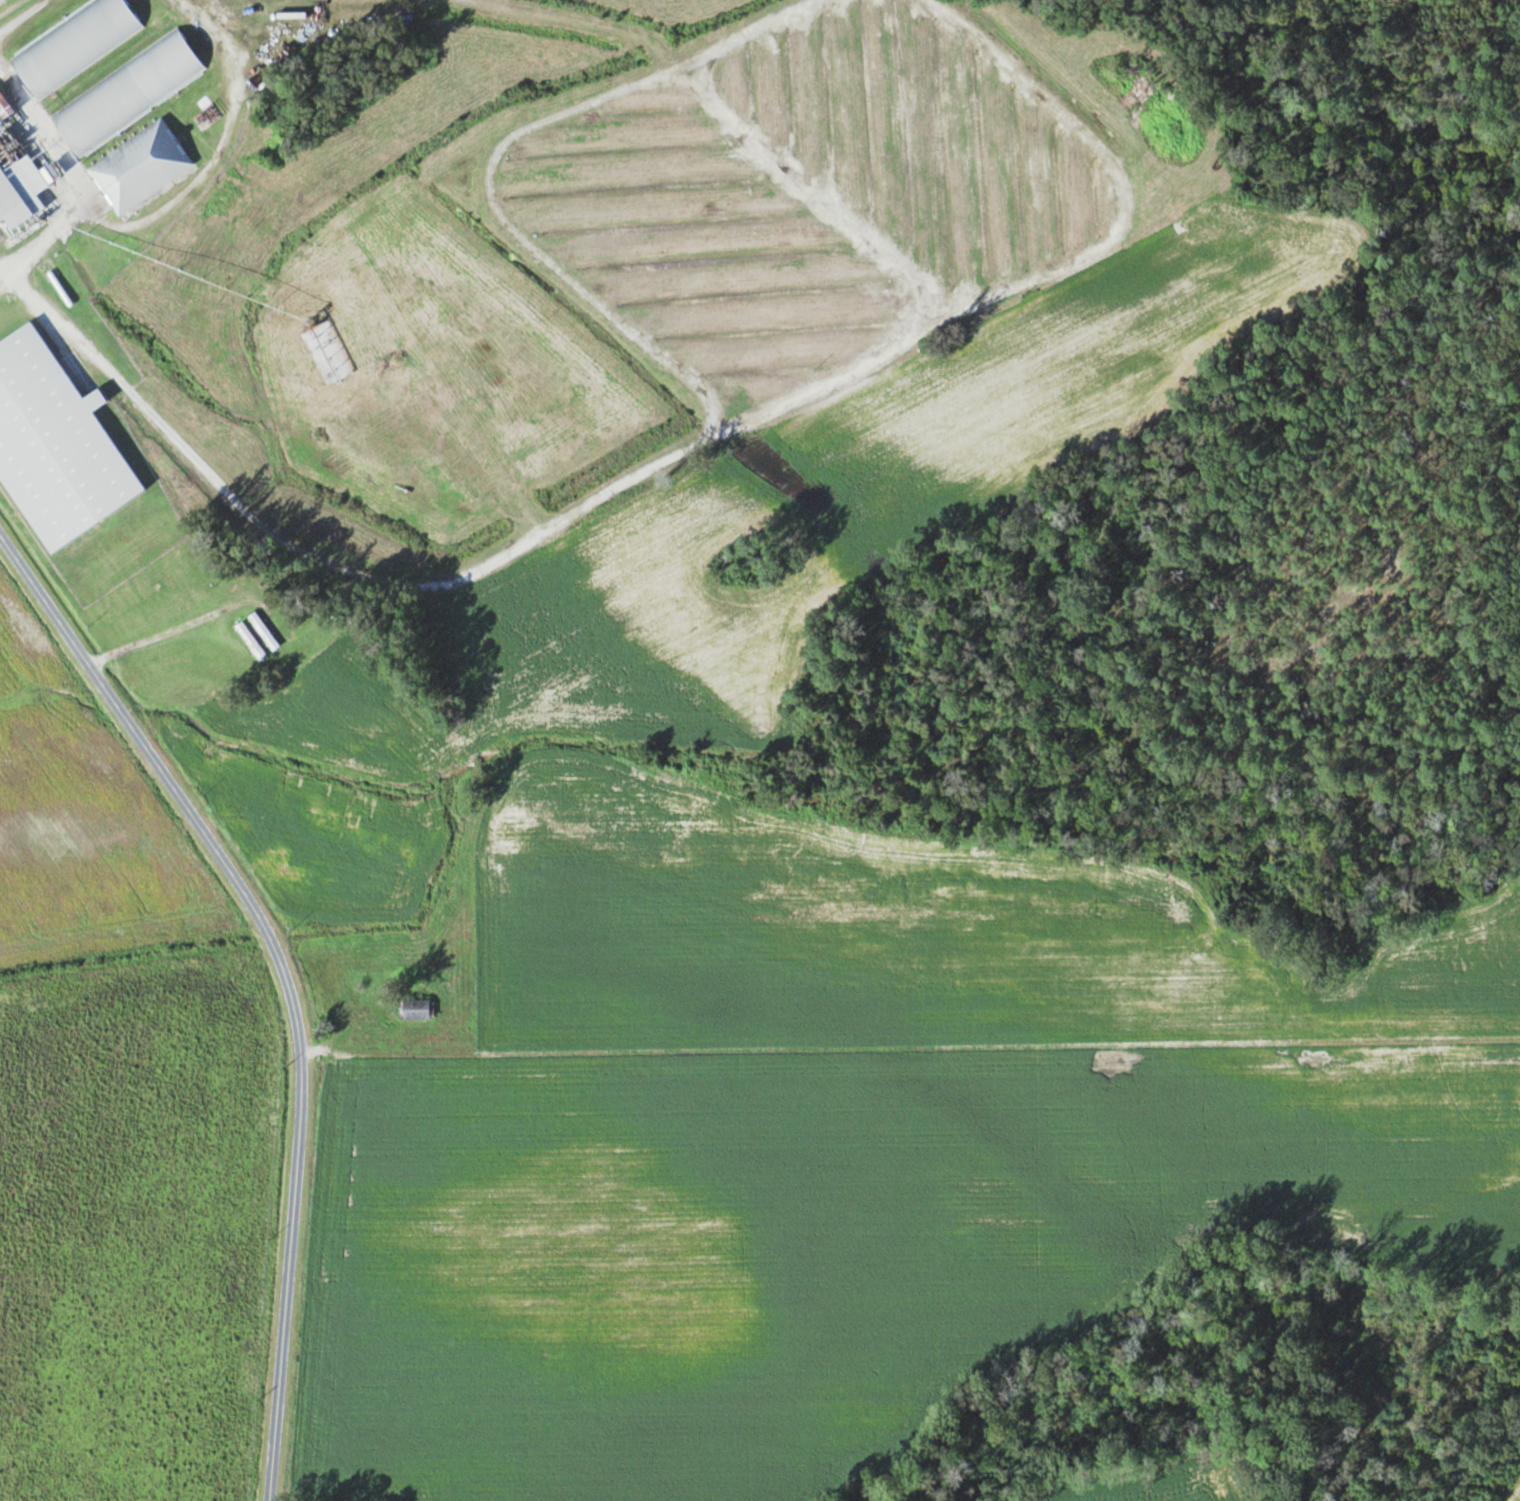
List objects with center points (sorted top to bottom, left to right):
building: (69, 46)
building: (138, 167)
building: (52, 447)
building: (521, 473)
building: (262, 631)
building: (249, 641)
road: (285, 977)
building: (414, 1009)

